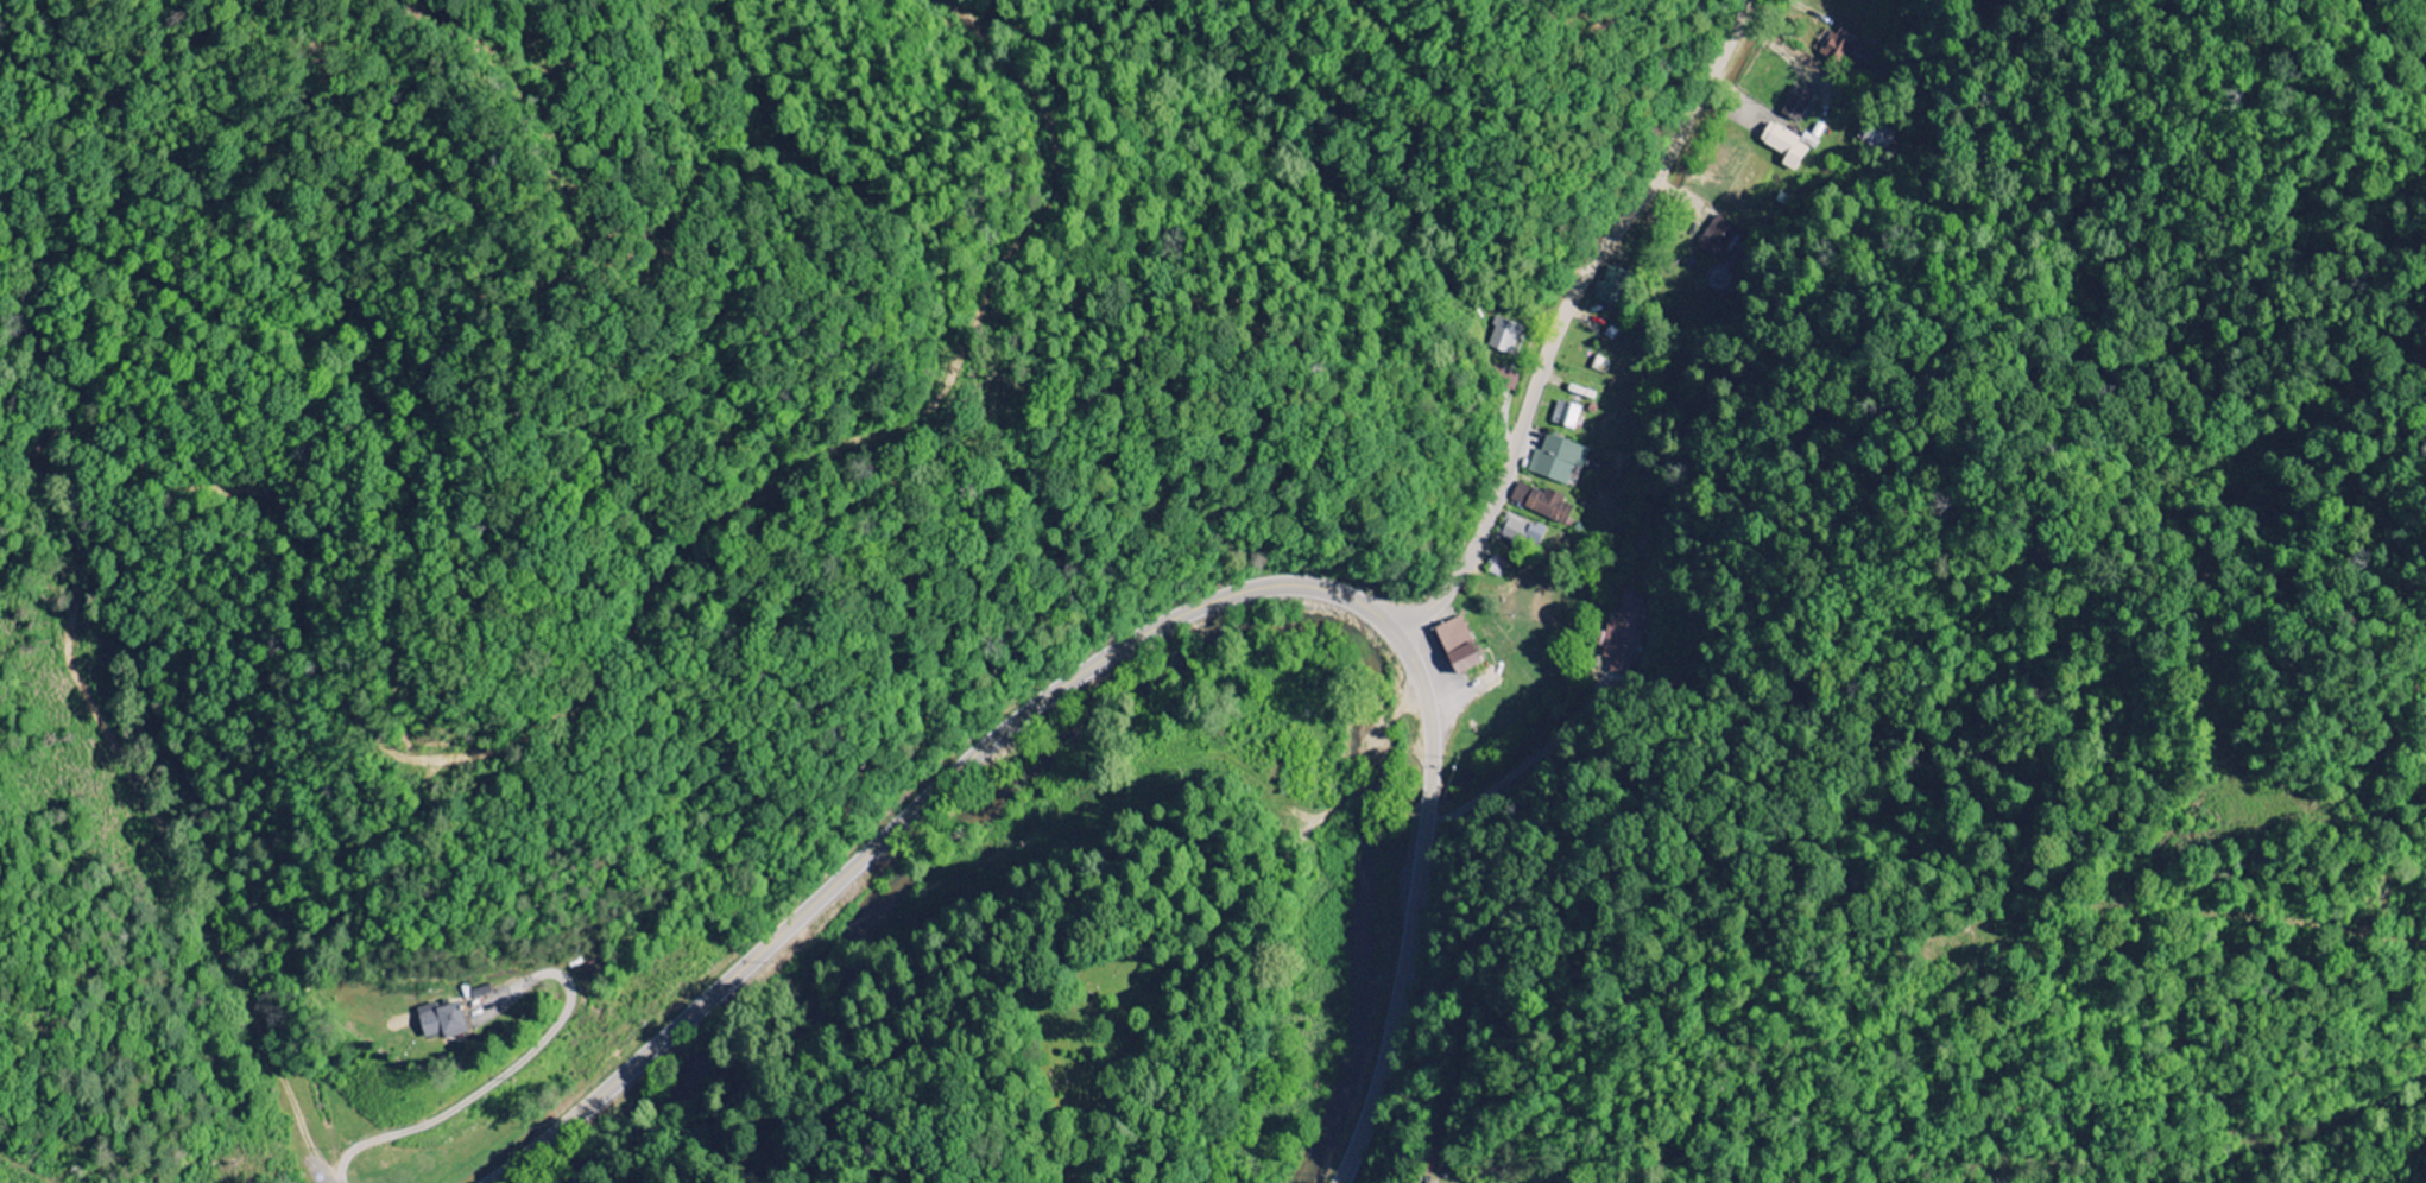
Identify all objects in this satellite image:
building: (1847, 49)
building: (1796, 105)
building: (1877, 135)
building: (1786, 146)
building: (1718, 240)
building: (1610, 286)
road: (1562, 317)
building: (1504, 336)
building: (1509, 380)
building: (1565, 416)
building: (1556, 461)
building: (1541, 504)
building: (1521, 532)
building: (1452, 635)
building: (1619, 637)
road: (1138, 639)
building: (1462, 660)
building: (440, 1020)

